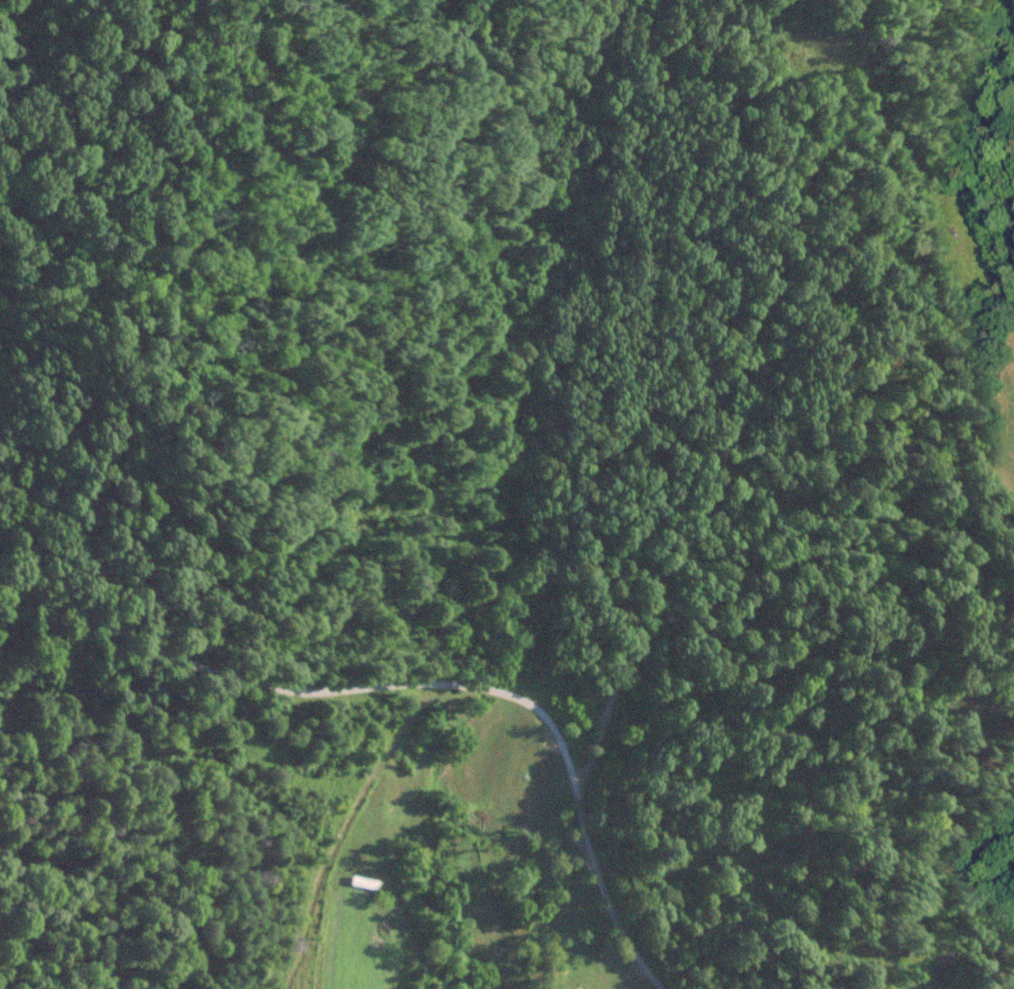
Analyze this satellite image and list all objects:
road: (418, 682)

